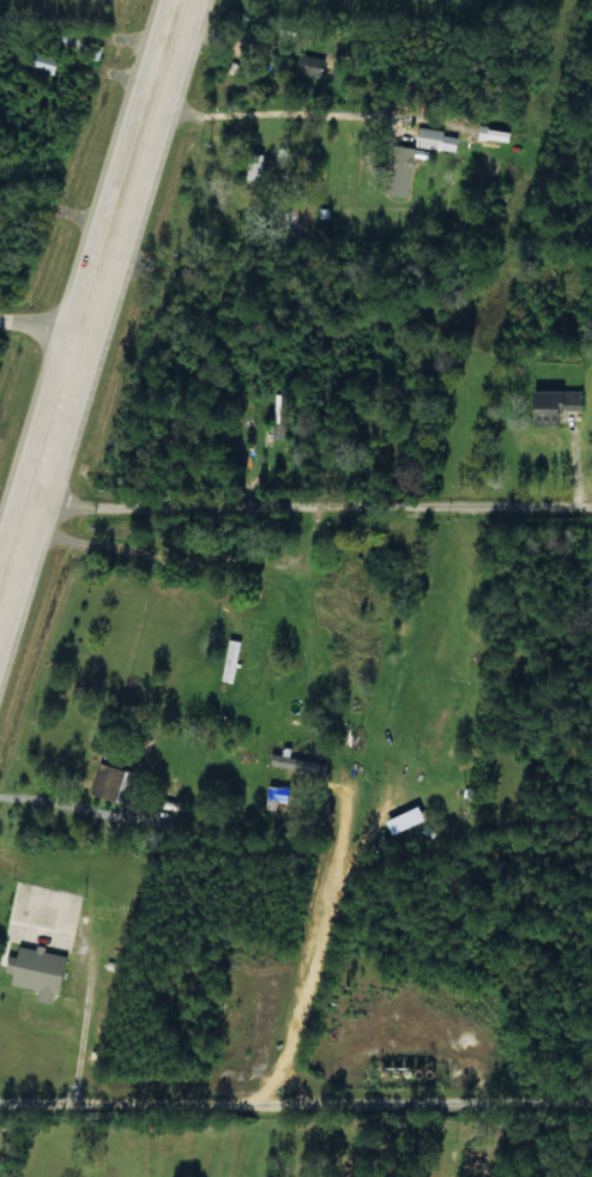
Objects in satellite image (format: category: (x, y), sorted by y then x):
building: (41, 61)
building: (308, 66)
building: (434, 139)
building: (399, 174)
road: (90, 301)
road: (41, 328)
building: (551, 404)
building: (278, 416)
road: (313, 494)
building: (436, 736)
building: (294, 763)
building: (109, 784)
building: (276, 797)
building: (35, 972)
road: (296, 1099)

